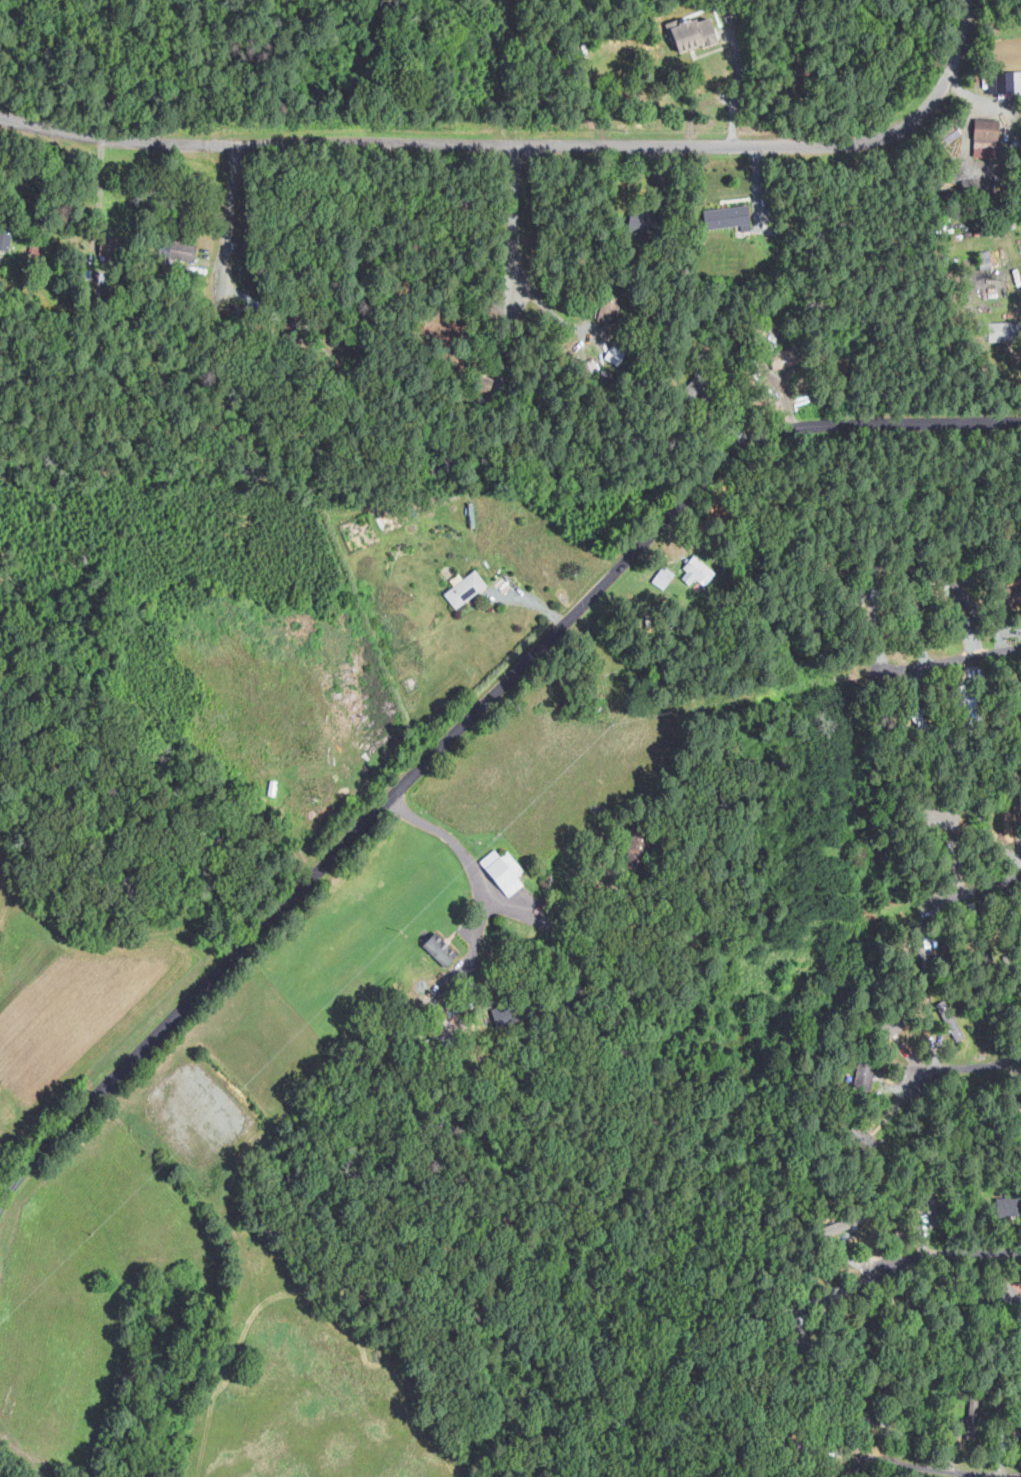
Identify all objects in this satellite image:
building: (695, 34)
building: (1014, 81)
road: (736, 91)
road: (998, 106)
building: (986, 137)
road: (526, 145)
road: (222, 217)
building: (729, 217)
road: (512, 219)
building: (5, 240)
building: (110, 248)
building: (183, 251)
building: (697, 572)
building: (663, 578)
building: (465, 588)
road: (959, 651)
road: (467, 721)
building: (1006, 824)
road: (474, 869)
building: (503, 871)
road: (965, 893)
building: (441, 948)
road: (970, 1067)
building: (863, 1076)
road: (930, 1254)
road: (944, 1468)
road: (4, 1474)

